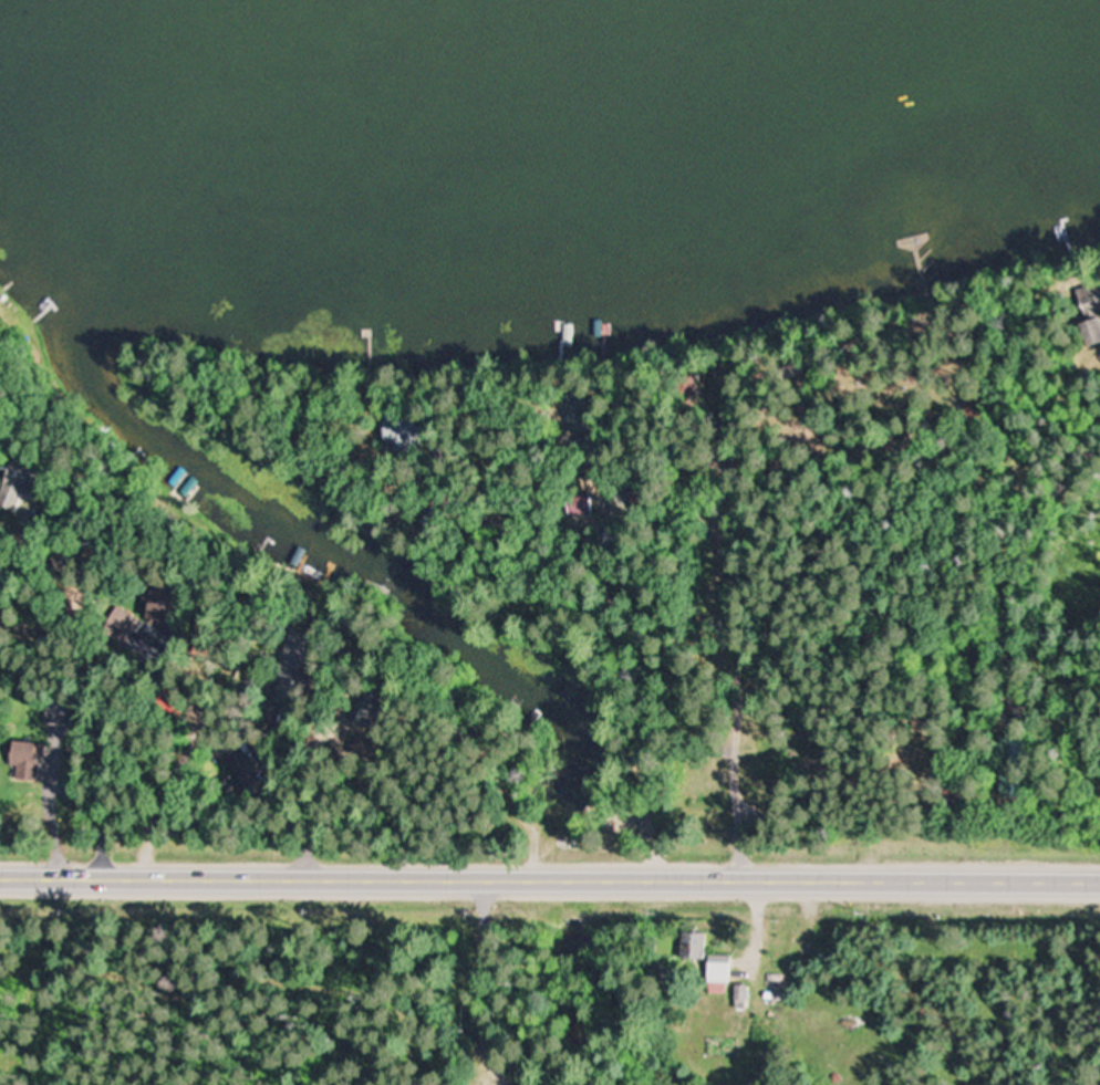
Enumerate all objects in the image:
building: (1090, 299)
building: (1090, 331)
building: (695, 389)
road: (828, 419)
building: (588, 507)
road: (1000, 574)
building: (133, 630)
road: (616, 644)
road: (717, 666)
building: (58, 711)
road: (335, 719)
road: (295, 731)
building: (771, 755)
building: (24, 760)
road: (549, 879)
building: (698, 948)
building: (724, 971)
building: (747, 998)

